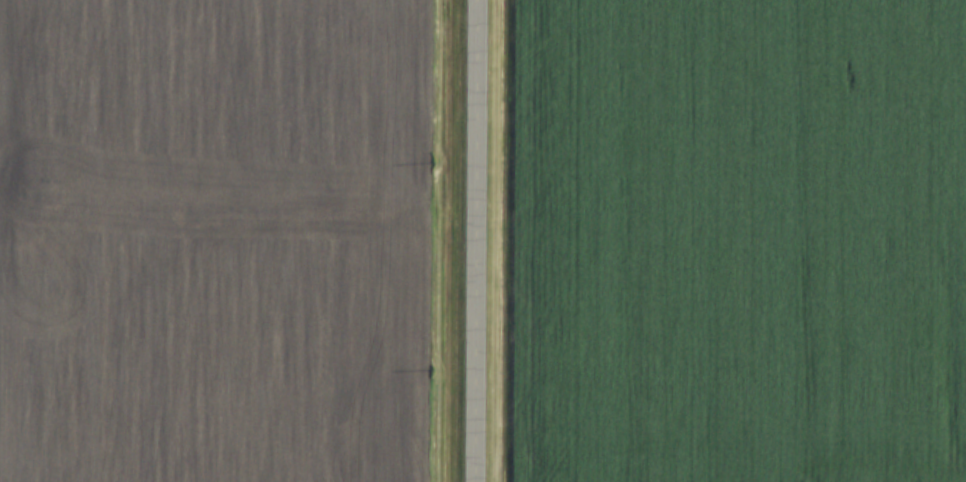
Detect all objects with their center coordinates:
road: (480, 240)

